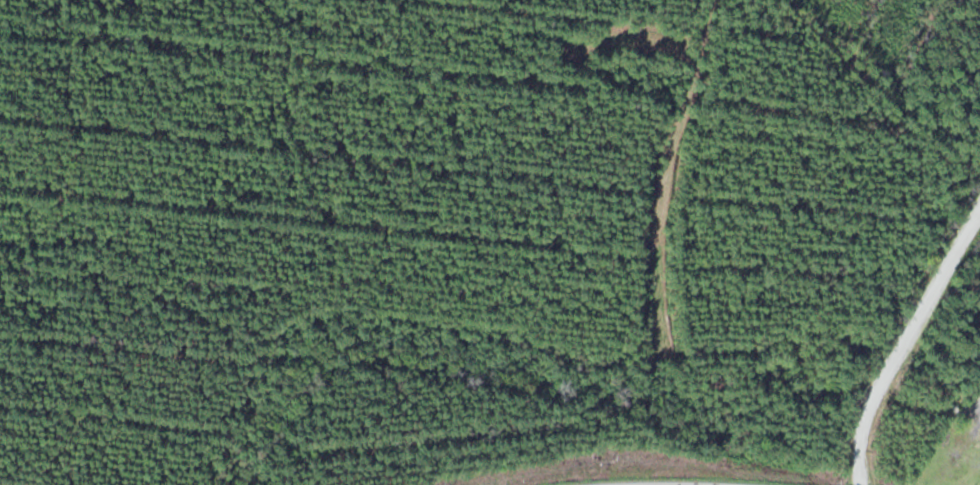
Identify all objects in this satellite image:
road: (864, 108)

